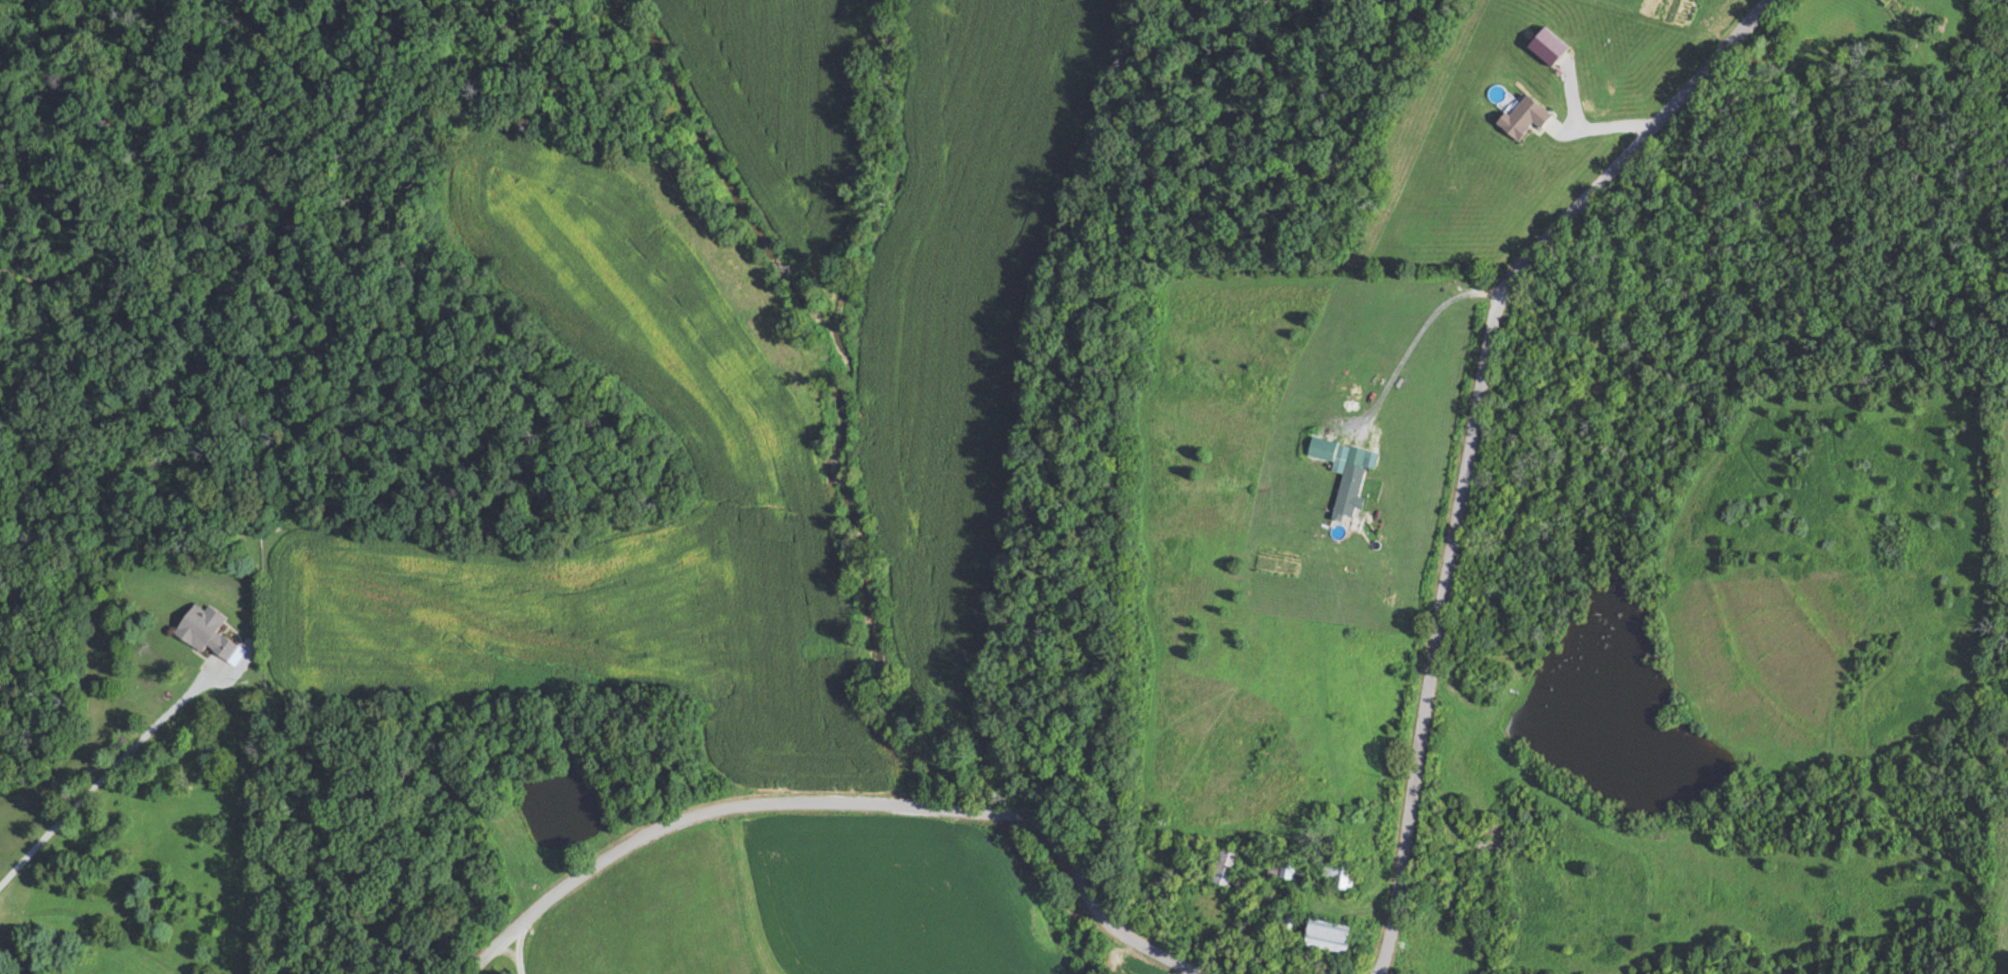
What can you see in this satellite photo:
road: (1468, 439)
building: (1322, 448)
building: (1352, 480)
building: (206, 630)
road: (106, 772)
road: (838, 801)
building: (1222, 866)
building: (1279, 868)
building: (1348, 876)
building: (1281, 924)
building: (1333, 937)
road: (514, 951)

